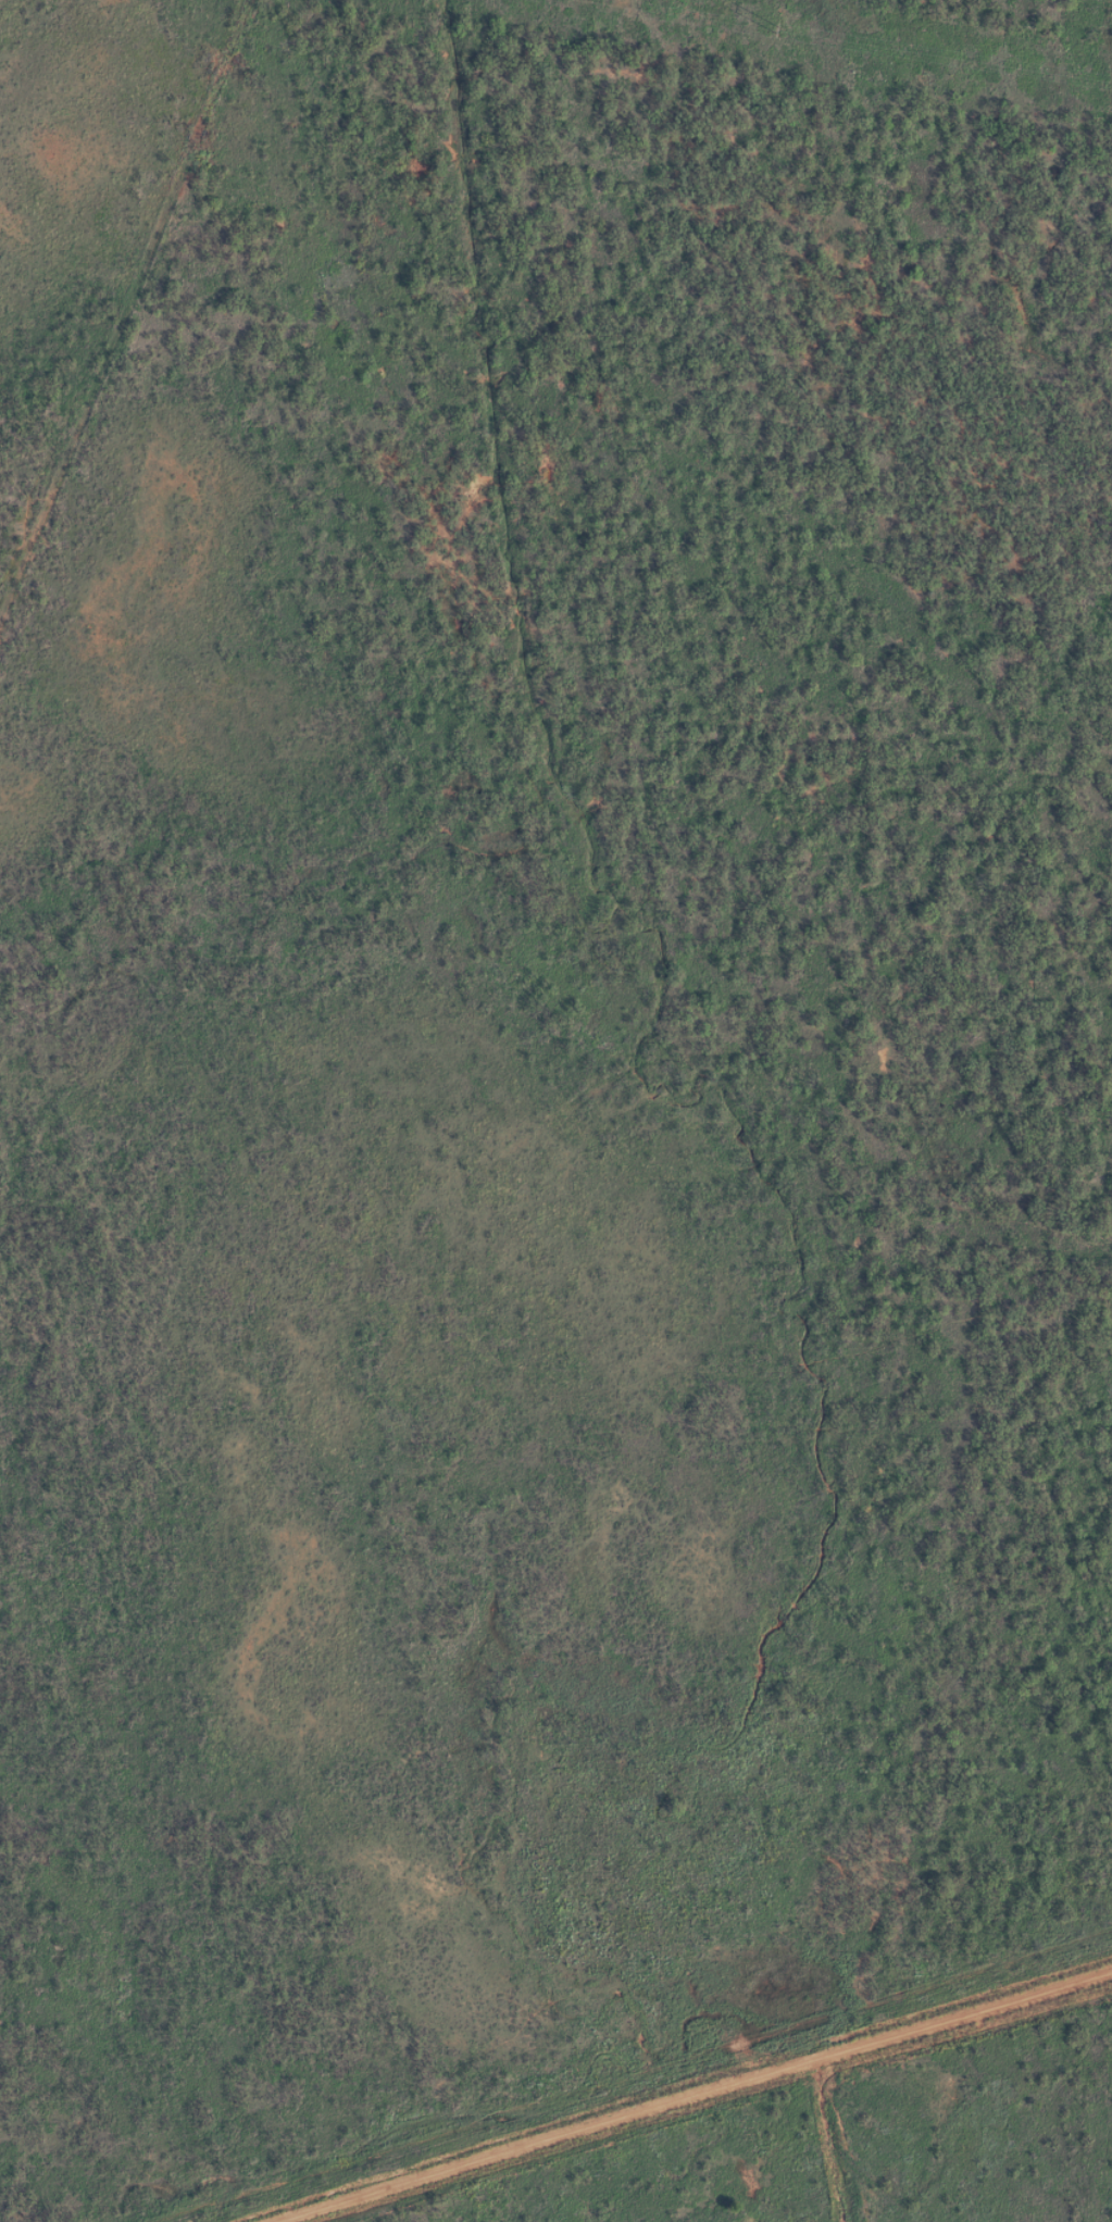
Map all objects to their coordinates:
power tower: (766, 30)
road: (723, 2097)

